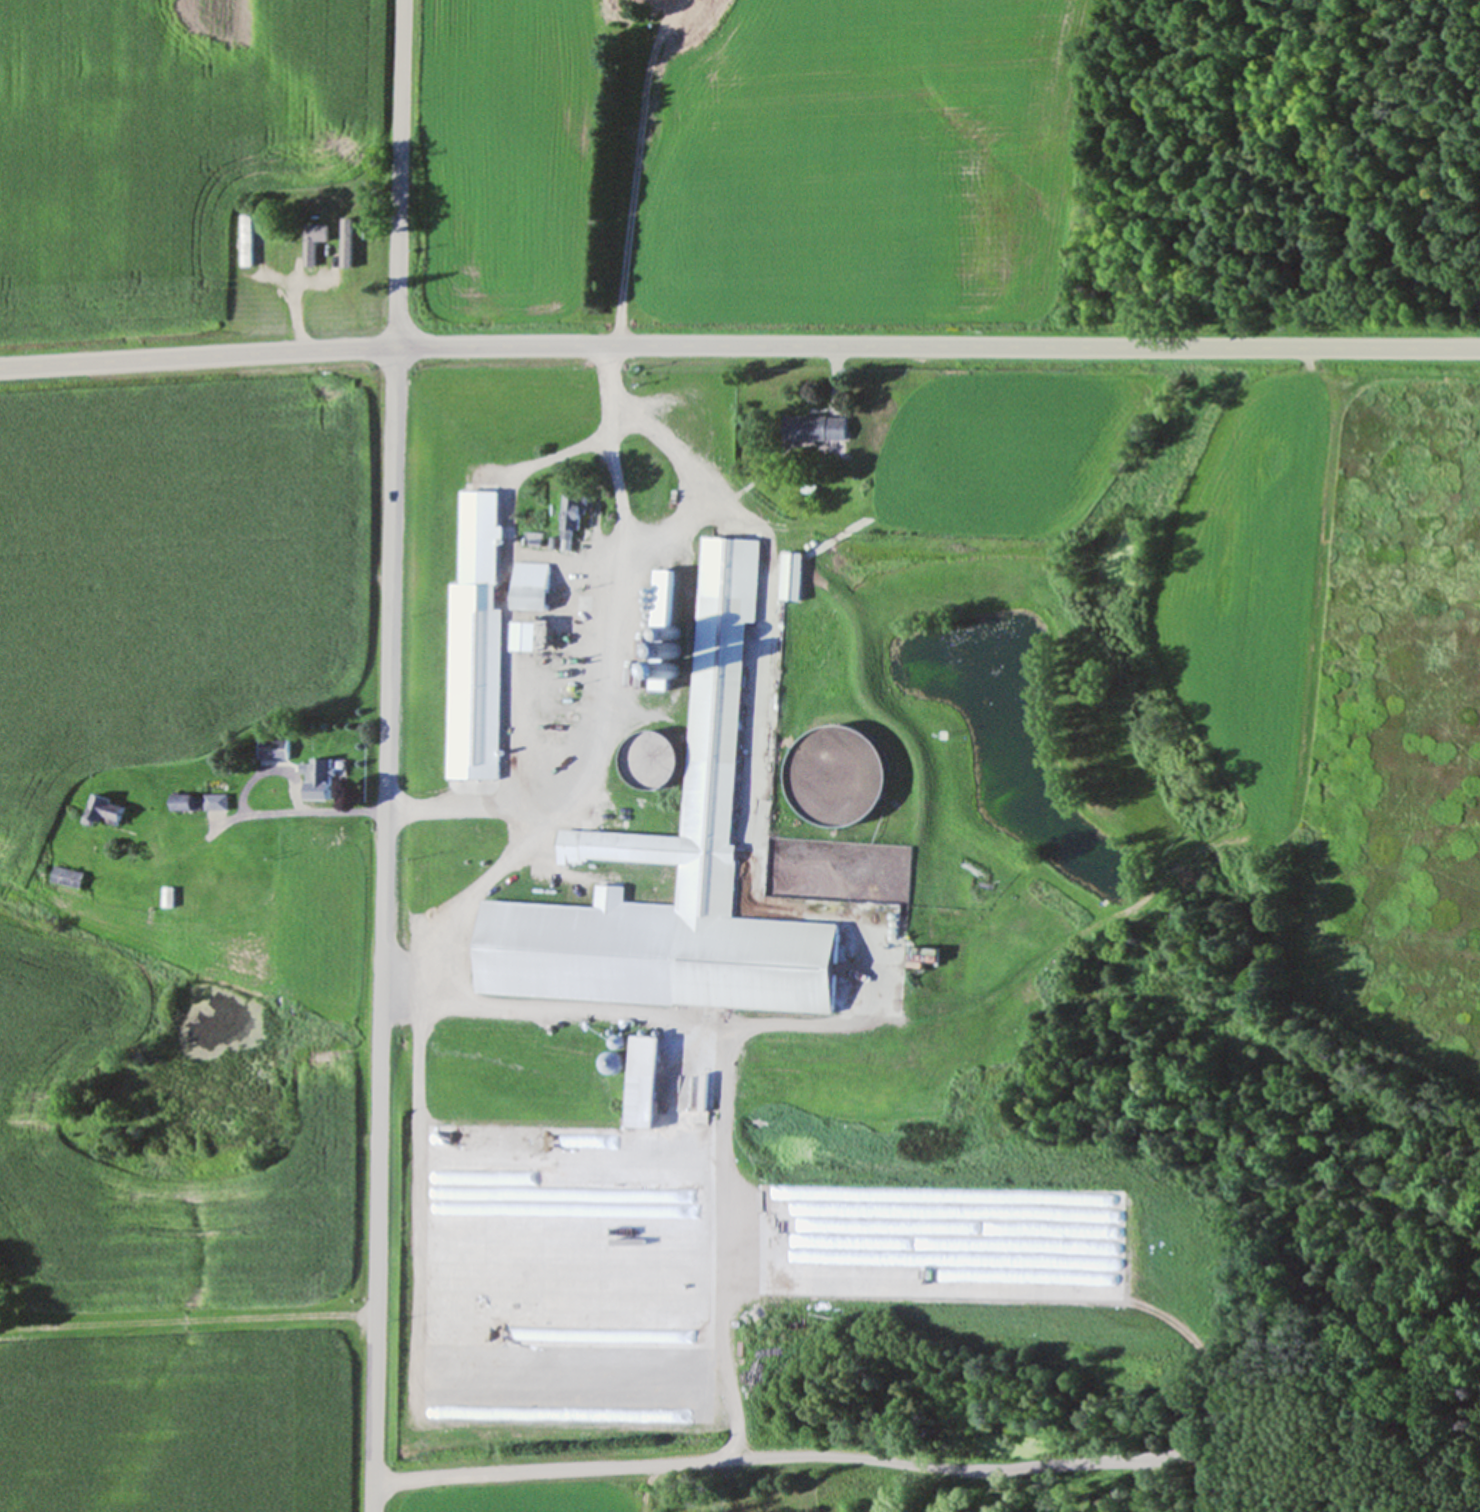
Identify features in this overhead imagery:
building: (250, 239)
building: (317, 240)
building: (352, 240)
road: (296, 319)
road: (739, 346)
building: (816, 426)
building: (1232, 466)
road: (688, 472)
building: (575, 521)
building: (698, 556)
road: (599, 571)
building: (1254, 571)
building: (795, 575)
building: (544, 587)
building: (480, 674)
building: (1215, 710)
building: (276, 748)
road: (387, 755)
building: (656, 759)
building: (325, 770)
building: (844, 774)
building: (185, 801)
building: (109, 810)
building: (713, 822)
building: (70, 876)
building: (218, 896)
road: (1080, 932)
road: (490, 943)
building: (644, 1079)
road: (188, 1321)
building: (660, 1399)
road: (766, 1457)

